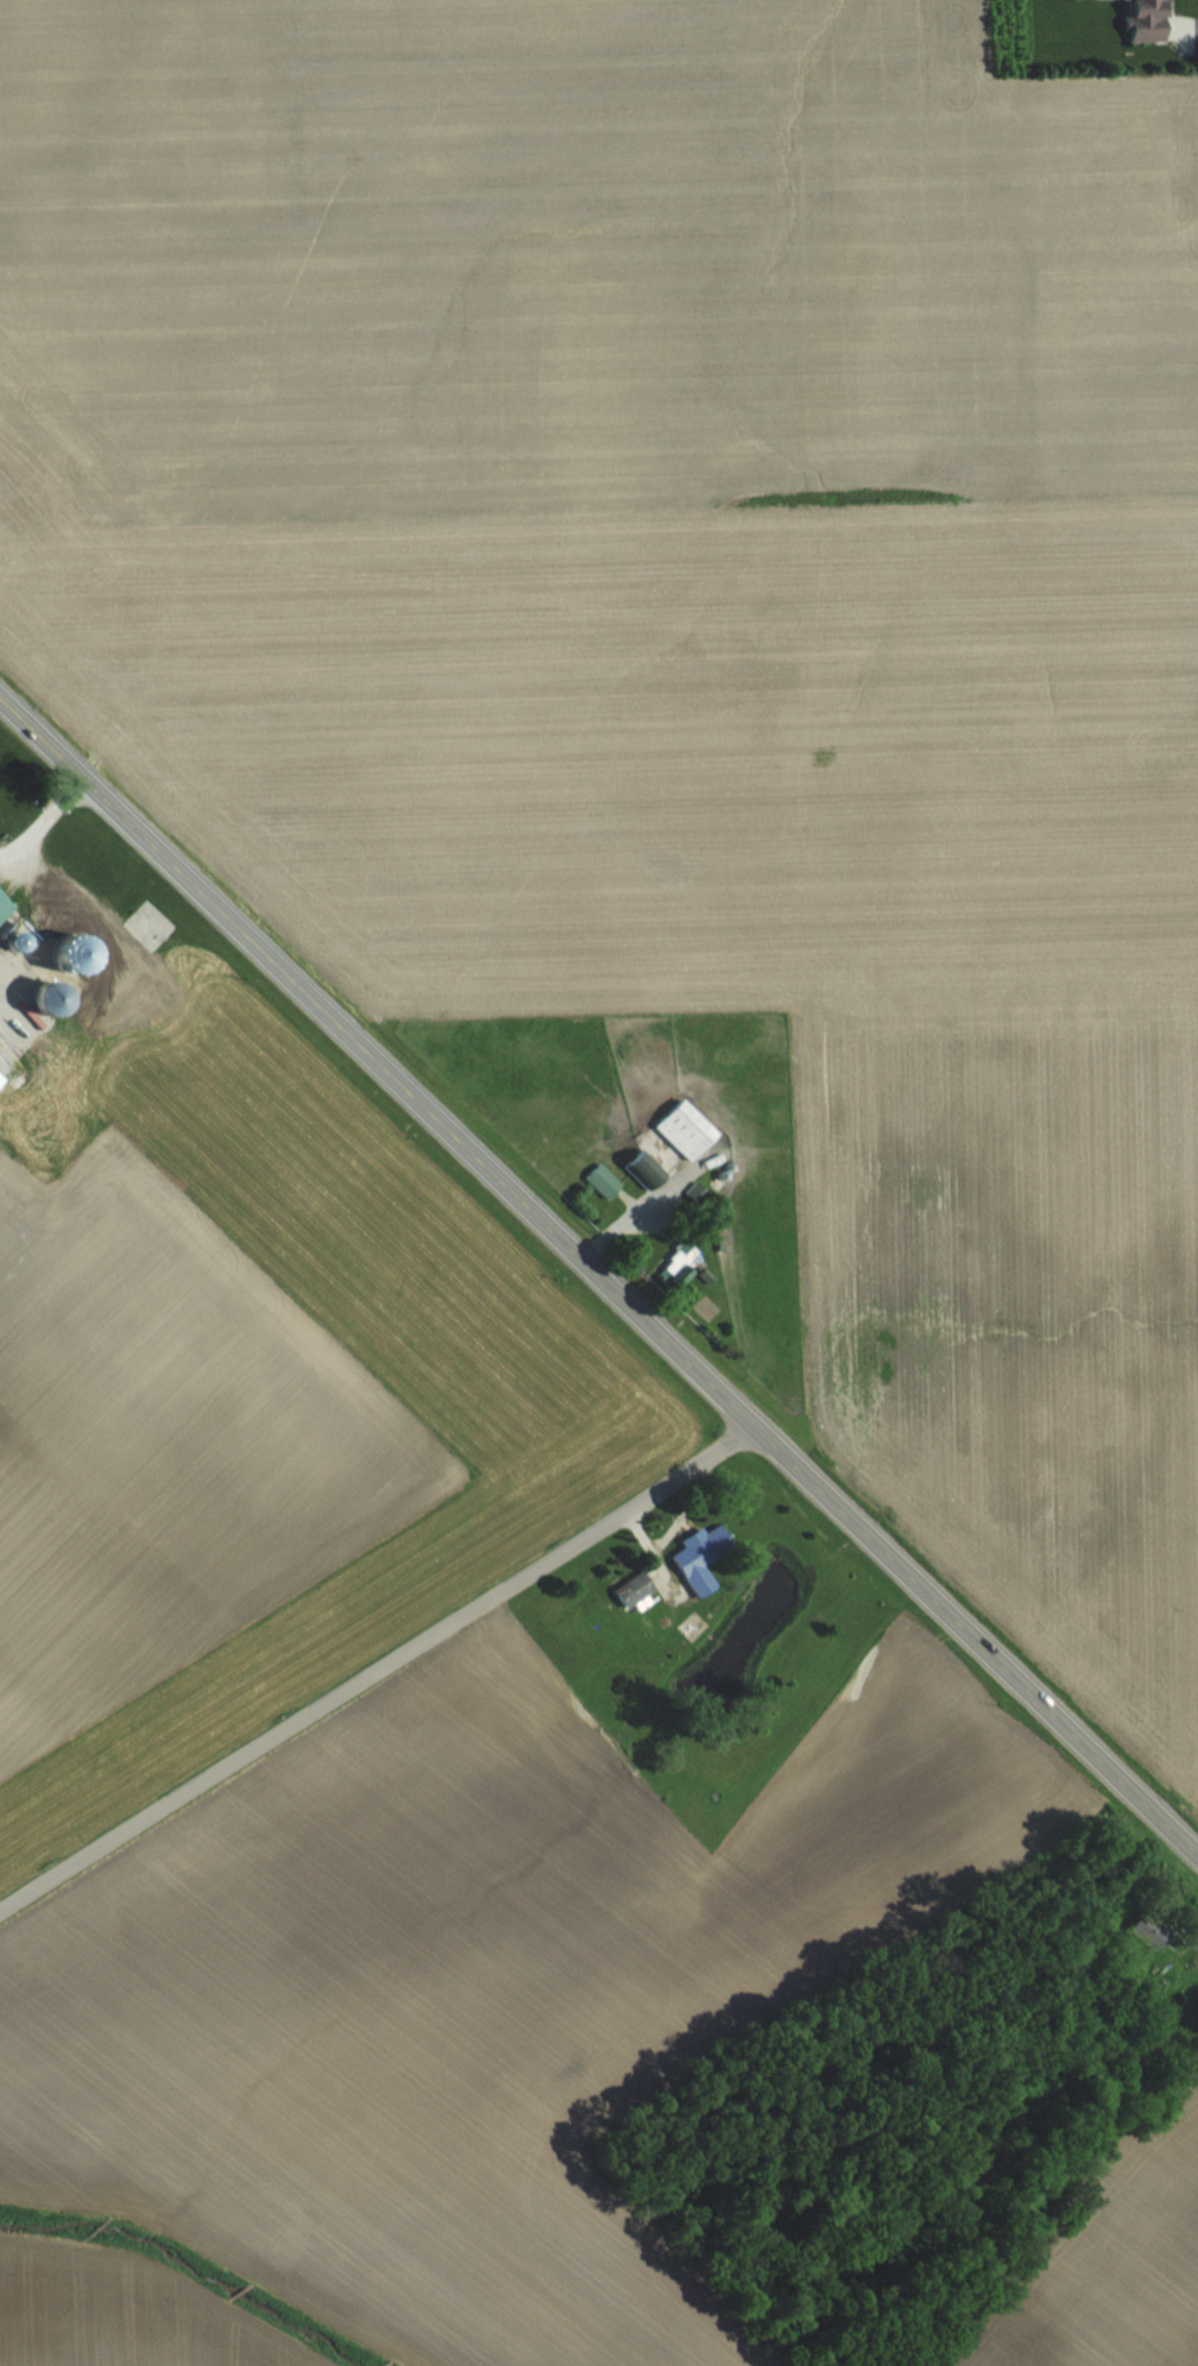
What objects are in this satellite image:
building: (1141, 19)
road: (1196, 19)
road: (40, 821)
building: (70, 936)
building: (37, 997)
building: (0, 1078)
building: (681, 1129)
building: (642, 1167)
building: (600, 1179)
building: (673, 1266)
road: (599, 1276)
building: (696, 1558)
building: (628, 1588)
road: (378, 1670)
building: (1145, 1927)

